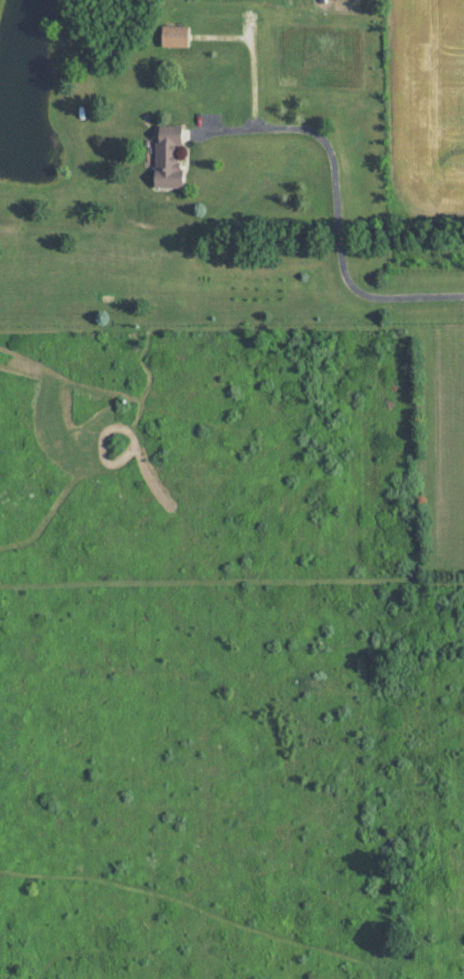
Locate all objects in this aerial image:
building: (175, 36)
building: (169, 157)
road: (338, 207)

